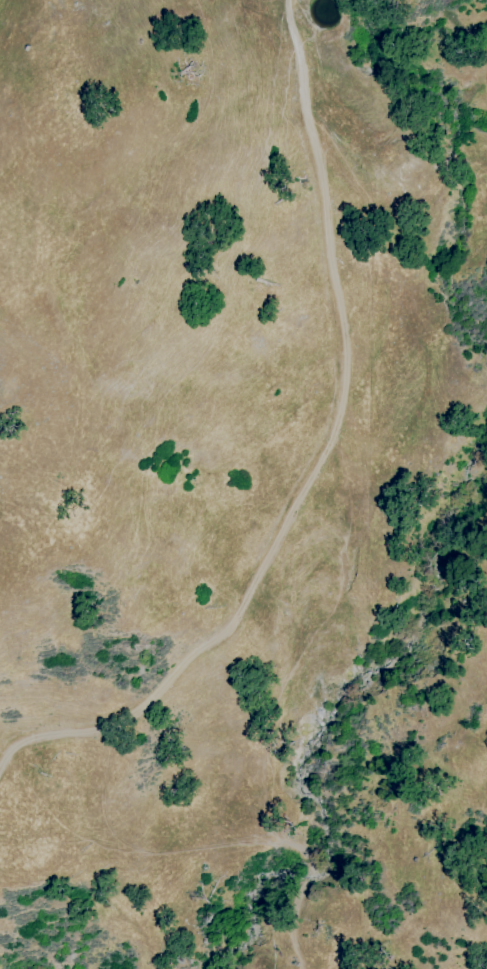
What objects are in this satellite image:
road: (319, 458)

